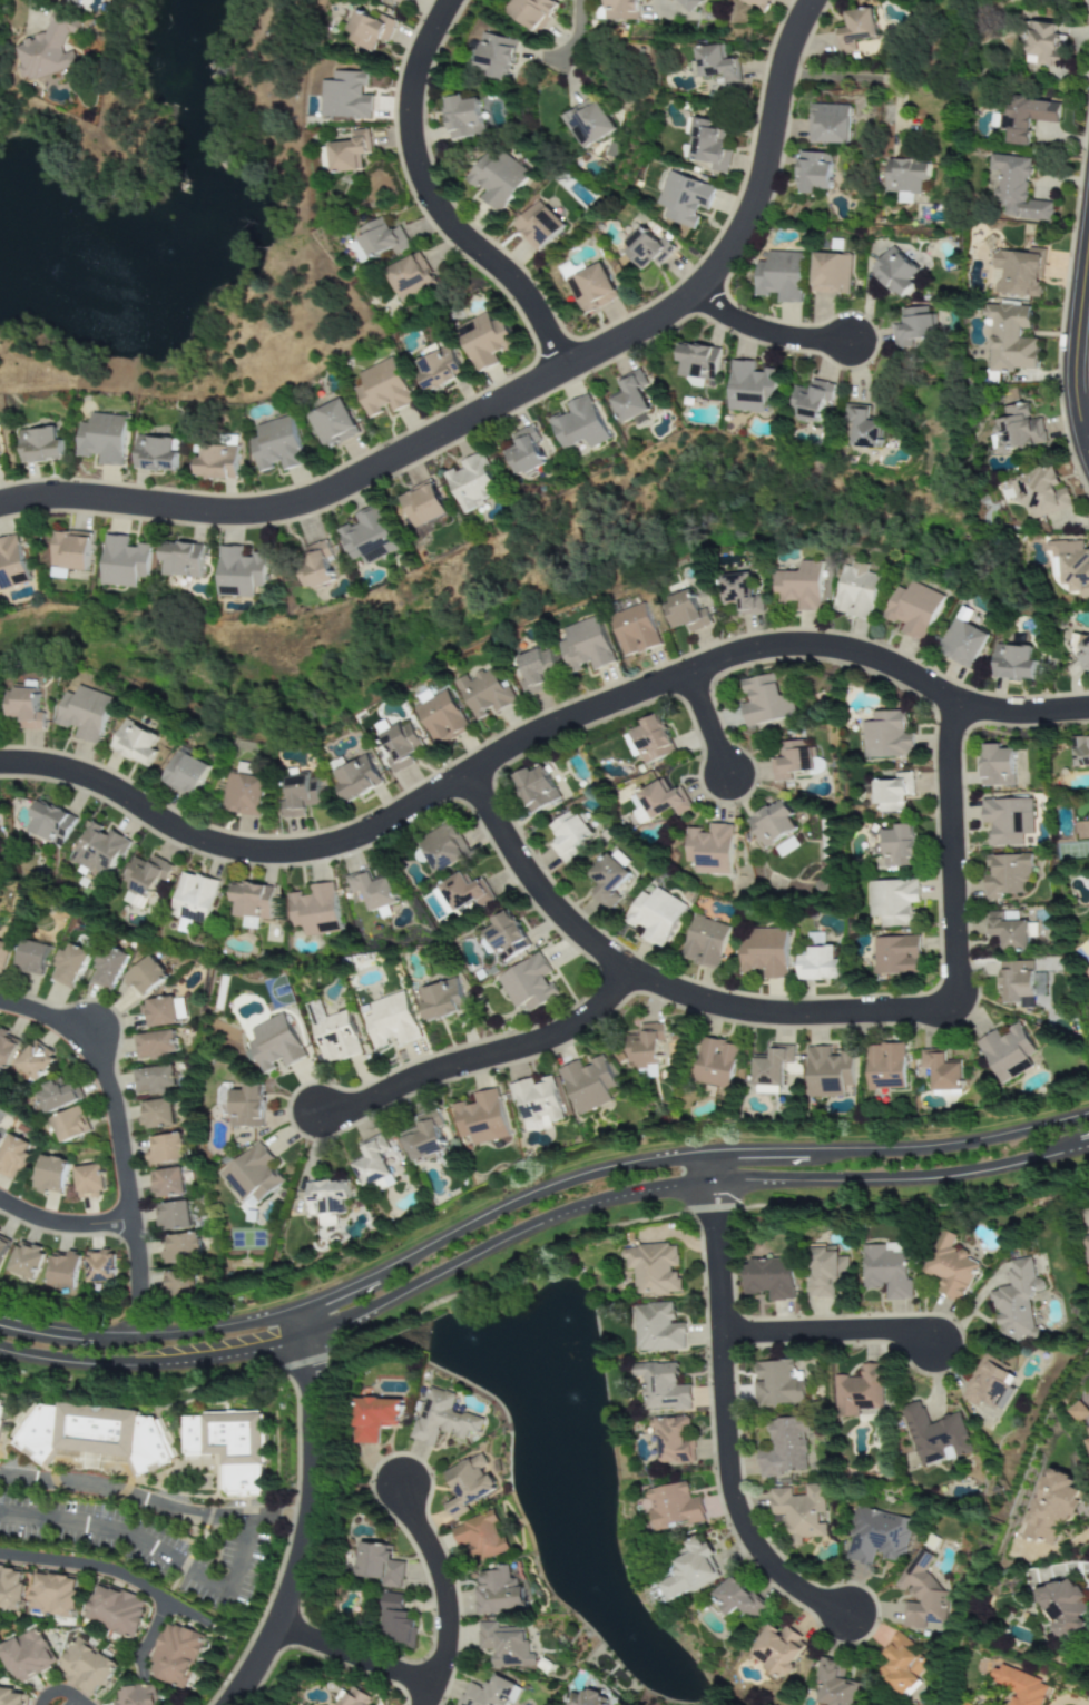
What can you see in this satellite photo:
building: (78, 1)
building: (402, 1)
building: (757, 3)
building: (688, 4)
road: (663, 7)
building: (621, 10)
building: (533, 12)
road: (36, 13)
building: (370, 30)
building: (855, 30)
road: (582, 33)
building: (1042, 45)
building: (51, 49)
building: (496, 56)
building: (716, 65)
road: (877, 81)
building: (346, 96)
building: (462, 117)
building: (1027, 117)
building: (586, 123)
building: (830, 124)
building: (350, 151)
building: (813, 173)
building: (906, 176)
building: (497, 179)
building: (1018, 189)
building: (685, 198)
road: (434, 202)
building: (538, 226)
building: (383, 238)
building: (645, 249)
building: (895, 272)
building: (1017, 272)
building: (830, 274)
building: (779, 276)
building: (411, 277)
building: (591, 288)
building: (913, 327)
road: (769, 334)
building: (1009, 337)
building: (484, 341)
road: (1078, 355)
building: (698, 361)
building: (438, 368)
building: (750, 388)
building: (382, 389)
building: (631, 396)
road: (510, 400)
building: (812, 401)
building: (333, 424)
building: (579, 424)
building: (862, 427)
building: (1018, 429)
road: (1087, 438)
building: (102, 439)
building: (277, 444)
building: (40, 445)
building: (526, 451)
building: (155, 454)
building: (217, 462)
building: (472, 482)
building: (1040, 492)
building: (422, 504)
building: (367, 537)
building: (70, 550)
building: (181, 559)
building: (124, 561)
building: (11, 564)
building: (315, 566)
building: (239, 572)
building: (798, 586)
building: (854, 591)
building: (739, 594)
building: (912, 609)
building: (685, 613)
building: (634, 630)
building: (961, 640)
building: (586, 646)
building: (1081, 650)
building: (1012, 663)
building: (536, 669)
building: (484, 693)
building: (765, 702)
building: (27, 708)
building: (86, 713)
building: (441, 718)
road: (705, 722)
road: (534, 733)
building: (886, 736)
building: (653, 739)
building: (136, 743)
building: (631, 745)
building: (400, 746)
building: (1080, 752)
building: (792, 760)
building: (997, 765)
building: (186, 773)
building: (356, 778)
building: (536, 788)
building: (892, 793)
building: (244, 795)
building: (301, 795)
building: (657, 802)
building: (1008, 821)
building: (50, 823)
building: (772, 823)
building: (568, 835)
building: (897, 846)
building: (444, 847)
building: (99, 849)
building: (709, 850)
building: (1005, 875)
building: (608, 879)
building: (144, 880)
building: (372, 890)
building: (465, 892)
building: (194, 898)
building: (441, 898)
building: (892, 901)
building: (252, 903)
building: (313, 909)
building: (655, 915)
building: (1007, 930)
building: (506, 937)
building: (705, 942)
building: (765, 952)
building: (3, 956)
building: (896, 956)
building: (31, 958)
building: (817, 960)
building: (68, 966)
building: (107, 967)
building: (145, 977)
building: (528, 983)
building: (1017, 983)
building: (442, 1000)
building: (163, 1011)
road: (808, 1015)
building: (390, 1021)
building: (333, 1033)
building: (155, 1043)
building: (274, 1043)
building: (646, 1046)
building: (6, 1050)
building: (1007, 1052)
road: (482, 1054)
building: (33, 1064)
building: (715, 1064)
building: (885, 1067)
building: (772, 1069)
building: (942, 1070)
building: (828, 1072)
building: (153, 1080)
building: (587, 1084)
building: (57, 1098)
building: (536, 1104)
building: (246, 1107)
building: (156, 1114)
building: (481, 1118)
building: (69, 1127)
road: (121, 1137)
building: (424, 1141)
building: (166, 1149)
building: (12, 1157)
road: (679, 1157)
building: (373, 1166)
building: (48, 1175)
building: (252, 1177)
building: (87, 1183)
building: (166, 1185)
road: (684, 1189)
building: (326, 1201)
road: (856, 1206)
building: (171, 1217)
road: (65, 1226)
building: (3, 1245)
building: (1086, 1246)
building: (178, 1250)
building: (23, 1265)
building: (949, 1266)
building: (653, 1268)
building: (99, 1271)
building: (886, 1271)
building: (825, 1272)
building: (61, 1273)
building: (769, 1278)
building: (179, 1286)
building: (1017, 1301)
road: (303, 1325)
building: (658, 1329)
road: (826, 1333)
road: (149, 1336)
road: (154, 1368)
building: (777, 1383)
building: (989, 1384)
building: (663, 1386)
building: (859, 1392)
building: (1, 1410)
building: (1078, 1411)
road: (719, 1412)
building: (374, 1418)
building: (443, 1419)
building: (935, 1435)
building: (96, 1437)
building: (674, 1440)
building: (226, 1448)
building: (784, 1448)
road: (16, 1477)
building: (469, 1484)
road: (138, 1502)
building: (675, 1506)
building: (1052, 1509)
building: (798, 1512)
road: (307, 1532)
building: (480, 1537)
building: (874, 1537)
building: (381, 1565)
building: (690, 1570)
road: (106, 1574)
road: (176, 1574)
building: (11, 1588)
building: (499, 1591)
building: (52, 1594)
road: (443, 1595)
building: (920, 1596)
building: (739, 1599)
building: (1063, 1607)
building: (112, 1611)
building: (396, 1623)
road: (154, 1628)
building: (504, 1645)
building: (778, 1650)
building: (24, 1655)
building: (171, 1655)
road: (353, 1655)
building: (901, 1665)
building: (84, 1667)
building: (836, 1685)
building: (1018, 1686)
building: (488, 1693)
building: (131, 1695)
building: (11, 1696)
road: (62, 1697)
building: (355, 1697)
building: (588, 1698)
building: (964, 1704)

